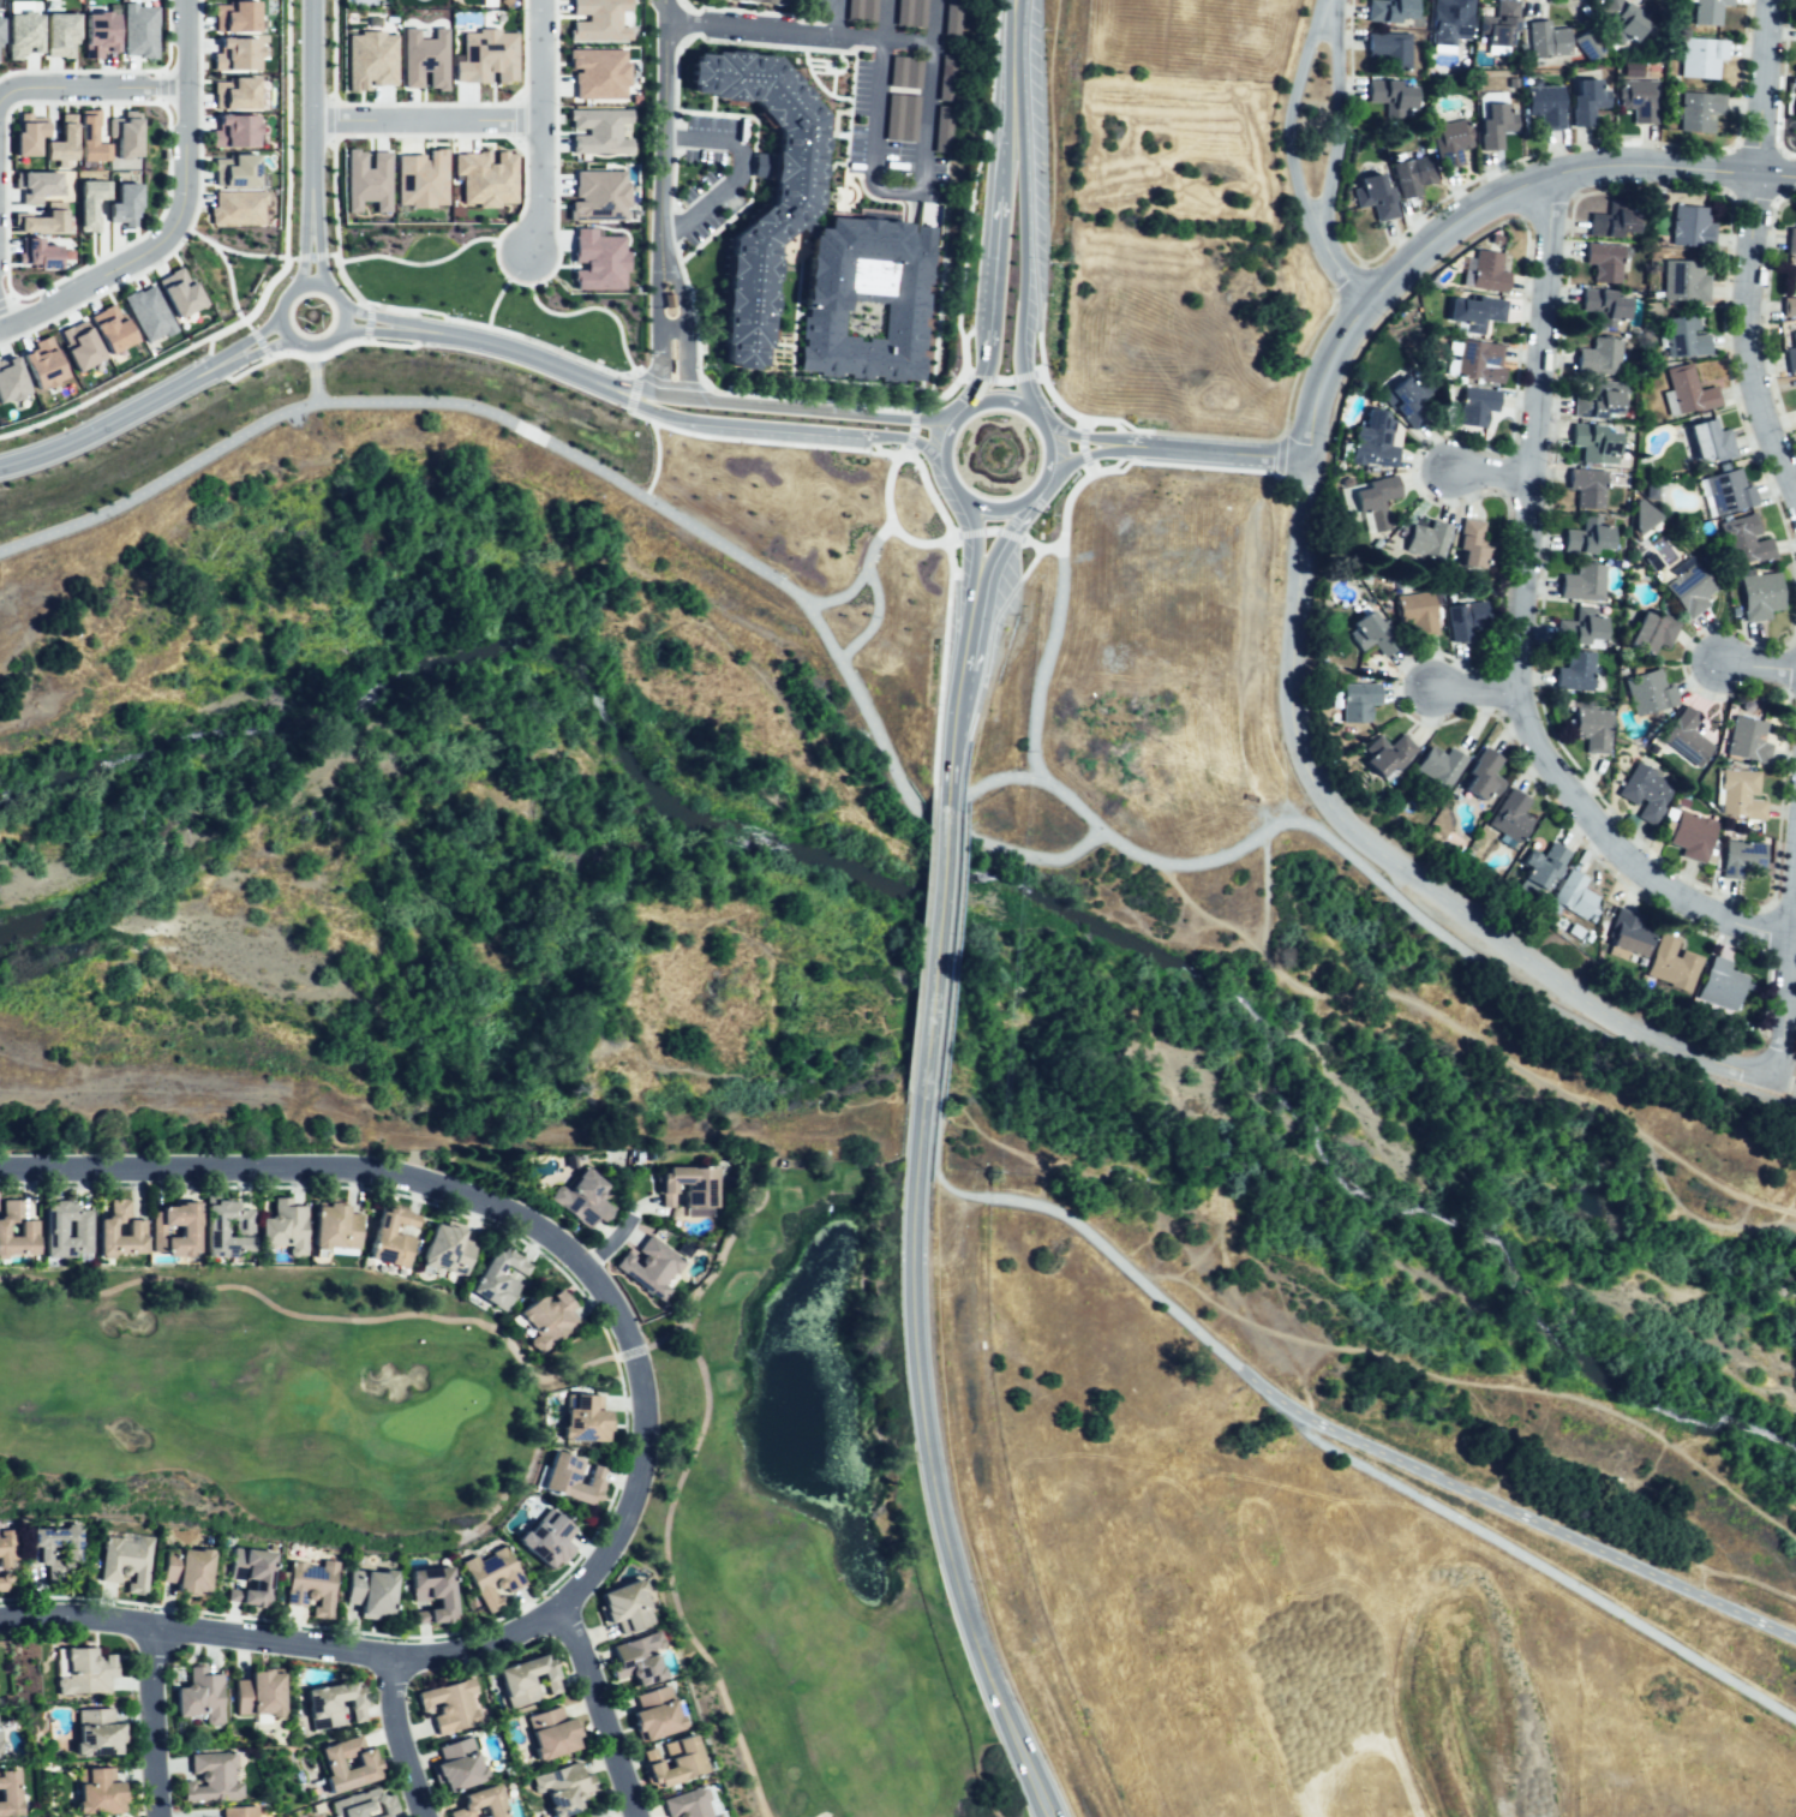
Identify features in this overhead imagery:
building: (765, 1)
building: (857, 10)
building: (1387, 11)
building: (1706, 11)
building: (910, 12)
building: (234, 16)
building: (951, 17)
road: (828, 18)
building: (599, 20)
building: (1447, 22)
building: (1623, 22)
road: (681, 24)
building: (1497, 28)
road: (747, 29)
building: (138, 30)
building: (22, 34)
building: (60, 34)
building: (98, 34)
road: (168, 40)
road: (900, 40)
building: (1544, 42)
building: (1586, 44)
road: (333, 49)
road: (523, 49)
building: (1387, 49)
building: (237, 54)
road: (1012, 54)
building: (486, 56)
building: (424, 58)
building: (370, 59)
building: (1699, 59)
road: (78, 70)
building: (598, 72)
building: (903, 72)
building: (945, 78)
road: (160, 86)
road: (90, 88)
parking lot: (900, 91)
building: (235, 92)
building: (1385, 95)
building: (1580, 98)
building: (1636, 100)
road: (423, 103)
building: (1543, 103)
building: (1695, 110)
building: (1792, 110)
road: (312, 113)
road: (1286, 115)
road: (1334, 116)
road: (329, 119)
road: (425, 119)
road: (516, 119)
building: (898, 119)
building: (1492, 125)
road: (5, 126)
road: (539, 127)
road: (287, 128)
road: (663, 128)
building: (234, 130)
building: (599, 130)
building: (940, 131)
building: (29, 133)
building: (125, 133)
road: (425, 135)
building: (90, 138)
building: (1448, 142)
building: (61, 143)
road: (673, 151)
road: (1002, 153)
road: (880, 163)
road: (752, 165)
road: (734, 168)
building: (234, 171)
parking lot: (712, 171)
road: (1558, 173)
building: (485, 177)
building: (1409, 177)
building: (367, 179)
building: (421, 179)
building: (36, 184)
road: (1020, 190)
building: (598, 195)
building: (1372, 198)
building: (90, 202)
building: (124, 203)
building: (237, 208)
building: (786, 208)
road: (178, 214)
building: (1611, 219)
building: (41, 220)
road: (188, 225)
building: (1688, 226)
road: (140, 234)
road: (556, 237)
road: (335, 241)
building: (1790, 243)
building: (37, 252)
road: (244, 253)
road: (330, 253)
road: (281, 256)
road: (305, 256)
road: (311, 256)
road: (317, 256)
road: (993, 256)
road: (291, 257)
road: (1755, 257)
building: (598, 259)
road: (224, 261)
road: (418, 262)
building: (1600, 263)
building: (1493, 270)
road: (672, 275)
road: (655, 281)
building: (1681, 283)
road: (289, 291)
building: (179, 292)
road: (5, 300)
road: (493, 300)
building: (819, 300)
road: (1035, 300)
road: (257, 305)
road: (370, 307)
road: (593, 307)
building: (1603, 307)
building: (1789, 307)
building: (148, 312)
road: (239, 315)
road: (371, 315)
building: (1478, 315)
road: (417, 319)
road: (367, 323)
road: (246, 325)
road: (670, 325)
road: (975, 325)
building: (112, 328)
road: (370, 328)
road: (418, 329)
road: (519, 334)
road: (256, 336)
road: (365, 339)
road: (423, 339)
road: (1343, 339)
building: (1681, 339)
road: (259, 341)
road: (686, 343)
road: (1019, 343)
building: (79, 345)
road: (259, 347)
road: (654, 348)
road: (208, 354)
building: (1790, 354)
road: (317, 355)
road: (268, 357)
road: (534, 358)
building: (1599, 358)
building: (1479, 359)
road: (983, 361)
building: (43, 363)
road: (1037, 372)
road: (965, 373)
road: (216, 375)
road: (315, 375)
building: (11, 378)
road: (1001, 378)
road: (669, 382)
road: (946, 390)
road: (631, 392)
building: (1684, 392)
road: (741, 393)
road: (1050, 395)
building: (1405, 399)
road: (1000, 400)
road: (747, 404)
building: (1480, 407)
building: (1593, 407)
road: (477, 408)
road: (870, 410)
road: (914, 417)
road: (118, 418)
road: (1083, 424)
road: (746, 426)
road: (911, 430)
road: (1124, 431)
road: (1531, 431)
road: (1193, 434)
road: (1083, 435)
road: (752, 440)
road: (909, 440)
building: (1375, 442)
building: (1705, 442)
road: (874, 443)
road: (1048, 443)
road: (1080, 446)
building: (1591, 447)
road: (1089, 453)
road: (1221, 453)
road: (944, 455)
road: (1122, 456)
road: (1280, 456)
road: (655, 459)
road: (1088, 466)
road: (1192, 466)
road: (1490, 479)
road: (1041, 488)
building: (1584, 489)
road: (930, 495)
building: (1726, 495)
road: (1070, 496)
building: (1371, 501)
road: (1001, 507)
building: (1641, 518)
road: (890, 526)
road: (988, 530)
road: (1002, 534)
road: (974, 538)
building: (1584, 538)
building: (1425, 539)
building: (1743, 544)
building: (1467, 545)
road: (1037, 546)
building: (1580, 584)
building: (1688, 590)
road: (1006, 594)
building: (1755, 599)
road: (974, 605)
building: (1415, 615)
road: (953, 617)
building: (1469, 617)
road: (870, 621)
building: (1582, 632)
building: (1647, 632)
building: (1369, 635)
road: (965, 653)
road: (1750, 671)
building: (1571, 674)
road: (940, 675)
road: (1477, 685)
building: (1645, 692)
building: (1354, 700)
road: (863, 705)
road: (952, 719)
building: (1587, 727)
building: (1683, 737)
building: (1746, 739)
building: (1383, 753)
building: (1435, 764)
building: (1479, 773)
road: (1004, 777)
building: (1641, 791)
building: (1736, 793)
building: (1508, 817)
road: (1318, 831)
building: (1688, 835)
road: (1620, 847)
road: (1008, 849)
building: (1738, 857)
road: (1393, 865)
building: (1538, 865)
building: (1573, 896)
road: (1201, 915)
building: (1626, 934)
building: (1670, 966)
road: (1788, 978)
road: (930, 979)
road: (951, 981)
building: (1719, 982)
road: (1487, 1036)
building: (682, 1185)
building: (580, 1200)
building: (211, 1224)
building: (49, 1226)
building: (331, 1226)
building: (101, 1227)
building: (282, 1227)
building: (185, 1229)
building: (13, 1232)
building: (389, 1237)
road: (606, 1241)
building: (443, 1249)
road: (719, 1259)
park: (1329, 1265)
building: (651, 1267)
building: (492, 1278)
road: (279, 1304)
building: (541, 1319)
park: (462, 1356)
road: (1478, 1383)
building: (577, 1417)
road: (642, 1421)
road: (1342, 1433)
building: (571, 1478)
road: (672, 1496)
road: (938, 1510)
road: (312, 1529)
road: (1634, 1532)
building: (544, 1537)
building: (48, 1544)
building: (1, 1554)
building: (126, 1560)
building: (182, 1568)
building: (245, 1577)
building: (489, 1577)
building: (2, 1580)
building: (310, 1586)
building: (367, 1590)
building: (429, 1594)
building: (619, 1604)
building: (635, 1660)
building: (84, 1672)
building: (523, 1681)
building: (256, 1695)
building: (198, 1696)
building: (333, 1703)
building: (447, 1704)
road: (597, 1709)
building: (655, 1711)
road: (152, 1722)
building: (94, 1731)
building: (551, 1734)
road: (399, 1739)
building: (327, 1762)
building: (671, 1763)
building: (454, 1767)
building: (209, 1779)
building: (561, 1788)
building: (5, 1792)
building: (92, 1792)
building: (365, 1804)
building: (480, 1804)
building: (688, 1805)
building: (237, 1811)

